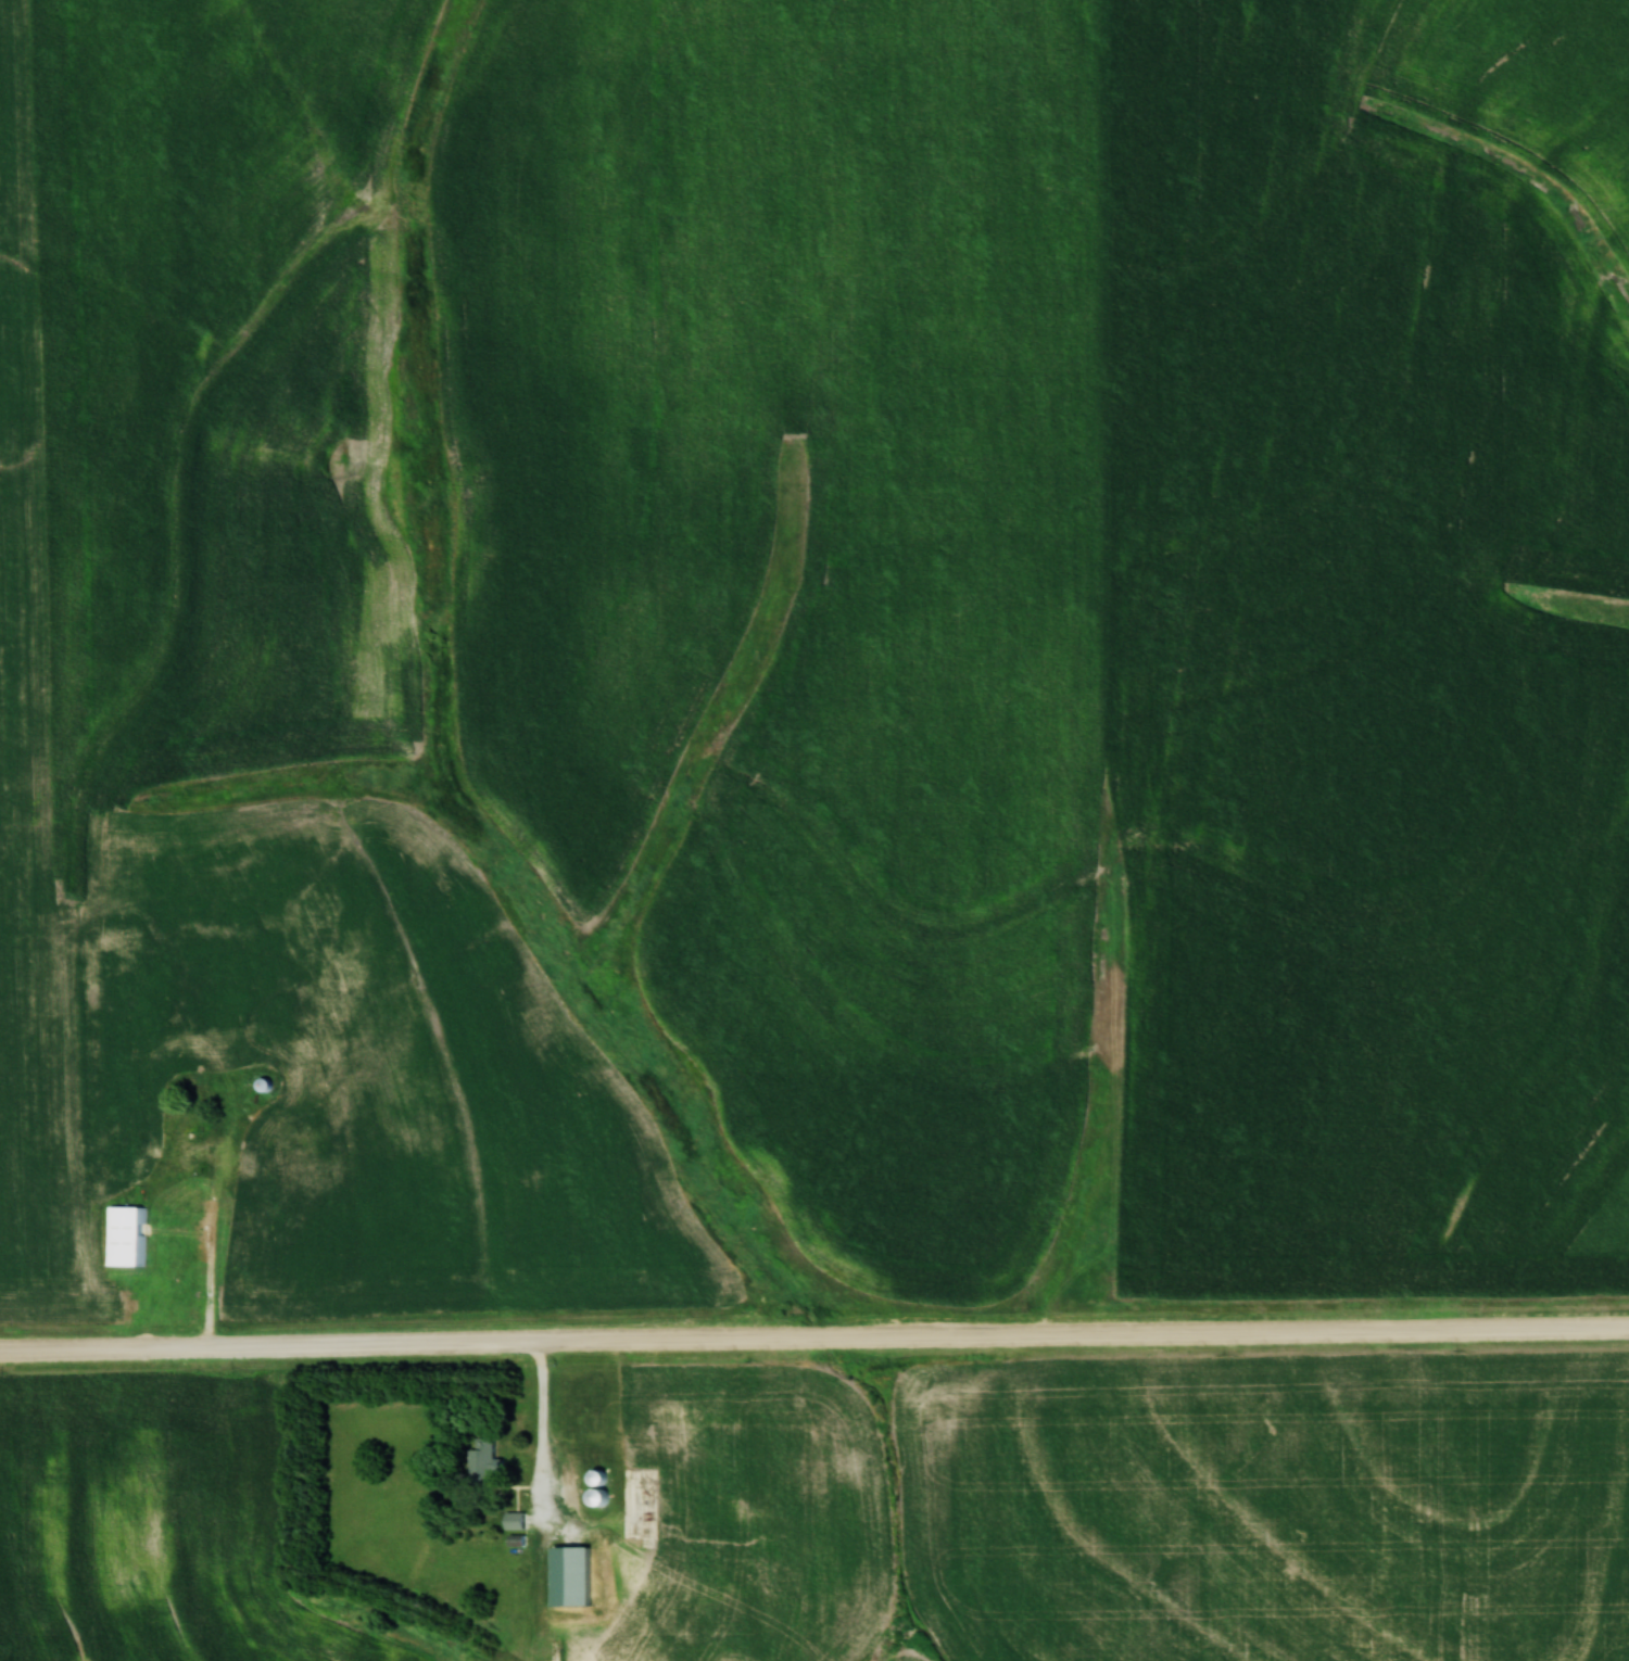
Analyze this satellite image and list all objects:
building: (260, 1124)
building: (126, 1235)
road: (215, 1245)
road: (813, 1340)
building: (583, 1400)
building: (487, 1455)
road: (547, 1501)
building: (594, 1550)

